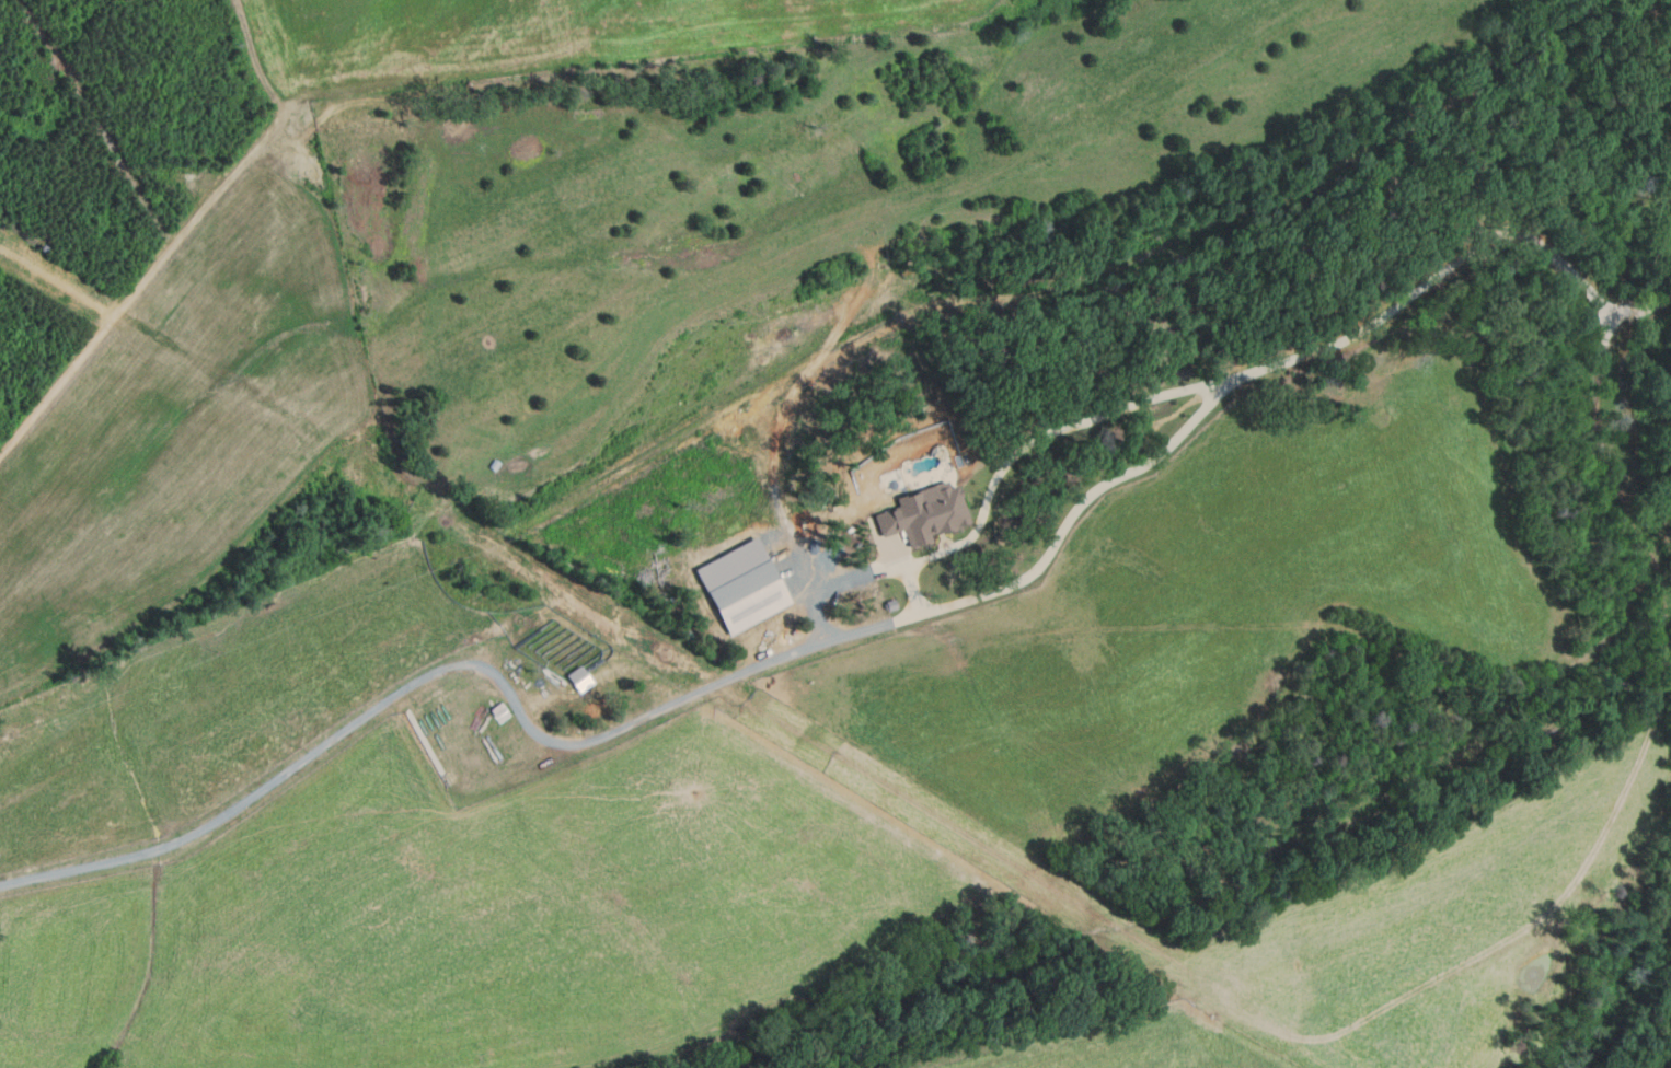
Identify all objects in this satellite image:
road: (149, 270)
road: (1024, 448)
building: (924, 512)
building: (748, 595)
building: (890, 604)
road: (858, 630)
building: (580, 677)
building: (493, 703)

